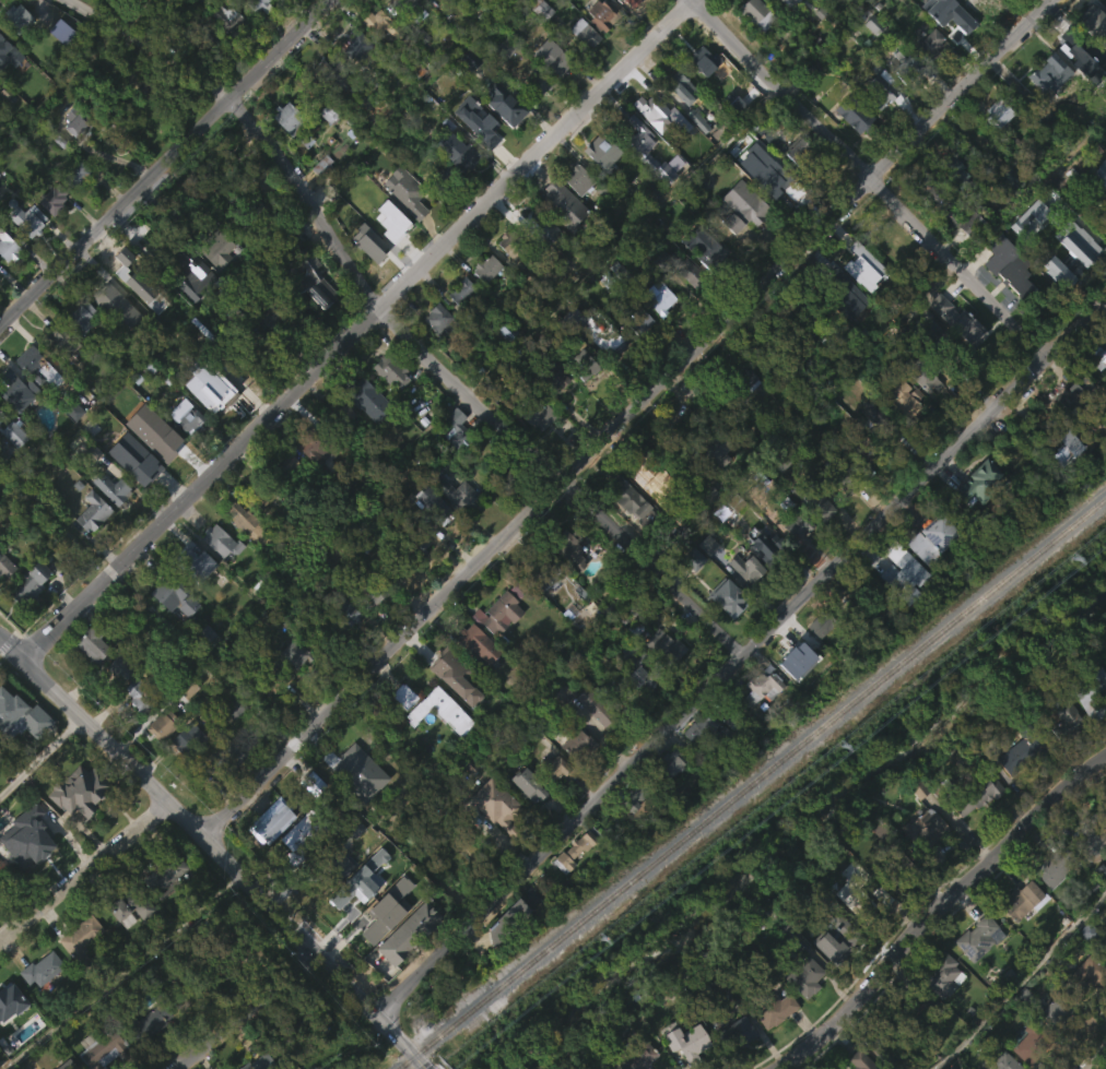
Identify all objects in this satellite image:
building: (82, 3)
building: (632, 3)
building: (260, 4)
building: (979, 4)
building: (408, 5)
building: (993, 5)
building: (808, 7)
building: (275, 9)
building: (466, 12)
building: (603, 14)
building: (757, 14)
building: (227, 17)
building: (17, 19)
building: (437, 19)
building: (621, 19)
building: (953, 20)
building: (778, 22)
building: (1094, 23)
building: (250, 26)
building: (383, 26)
building: (61, 31)
building: (400, 31)
building: (972, 32)
building: (584, 33)
building: (211, 36)
building: (541, 44)
building: (932, 45)
building: (3, 46)
building: (357, 46)
building: (752, 46)
building: (225, 49)
building: (599, 49)
building: (948, 55)
building: (373, 57)
building: (554, 58)
building: (868, 59)
building: (705, 60)
building: (1091, 60)
building: (58, 66)
building: (907, 66)
building: (580, 67)
building: (205, 69)
building: (332, 73)
building: (1050, 73)
building: (928, 75)
building: (145, 79)
building: (1, 80)
building: (353, 80)
building: (502, 84)
building: (538, 84)
building: (681, 86)
building: (882, 90)
building: (467, 93)
building: (699, 94)
building: (906, 98)
building: (503, 102)
building: (1046, 107)
building: (329, 108)
building: (656, 111)
building: (998, 111)
building: (281, 115)
building: (857, 115)
building: (534, 119)
building: (678, 121)
building: (140, 123)
building: (875, 126)
building: (489, 132)
building: (638, 138)
building: (995, 146)
building: (325, 147)
building: (655, 147)
building: (849, 147)
building: (598, 149)
building: (284, 153)
building: (800, 153)
building: (72, 155)
building: (462, 155)
road: (164, 159)
building: (1098, 163)
building: (1002, 169)
building: (636, 171)
building: (75, 174)
road: (870, 178)
building: (966, 178)
building: (442, 179)
building: (579, 179)
building: (793, 185)
building: (775, 186)
building: (598, 187)
building: (459, 191)
building: (52, 199)
building: (318, 199)
building: (999, 202)
building: (558, 203)
building: (72, 206)
building: (659, 206)
building: (744, 206)
building: (1097, 209)
building: (946, 211)
building: (254, 216)
building: (31, 219)
building: (649, 222)
building: (536, 224)
building: (401, 225)
building: (1081, 229)
building: (389, 231)
building: (49, 233)
building: (560, 239)
building: (738, 240)
building: (9, 244)
building: (514, 245)
building: (360, 246)
building: (216, 249)
building: (1028, 251)
building: (26, 253)
building: (711, 254)
building: (963, 254)
building: (537, 259)
building: (1068, 259)
building: (859, 265)
building: (680, 268)
building: (487, 269)
building: (196, 270)
building: (1072, 275)
building: (7, 278)
building: (508, 280)
building: (313, 281)
building: (216, 283)
building: (460, 290)
building: (835, 290)
building: (660, 298)
building: (676, 300)
building: (859, 300)
building: (1004, 300)
building: (109, 301)
building: (483, 301)
building: (1054, 306)
building: (810, 310)
building: (272, 311)
building: (191, 312)
building: (310, 313)
building: (81, 317)
building: (438, 318)
building: (639, 320)
building: (839, 321)
building: (237, 322)
building: (458, 324)
road: (400, 328)
road: (356, 331)
building: (603, 331)
building: (656, 332)
building: (938, 338)
building: (113, 340)
building: (62, 344)
building: (267, 349)
building: (78, 351)
building: (435, 353)
building: (766, 355)
building: (636, 356)
building: (1102, 356)
building: (964, 364)
building: (503, 365)
building: (585, 366)
building: (37, 367)
building: (392, 372)
building: (603, 373)
building: (57, 376)
building: (552, 376)
building: (927, 378)
building: (739, 379)
building: (210, 390)
building: (17, 392)
building: (1096, 393)
building: (362, 394)
building: (581, 399)
building: (903, 399)
building: (36, 402)
building: (387, 405)
building: (742, 409)
building: (552, 412)
building: (340, 413)
building: (917, 413)
building: (538, 414)
building: (188, 415)
building: (1, 416)
building: (881, 417)
road: (627, 420)
building: (123, 426)
building: (457, 427)
building: (1071, 427)
building: (901, 431)
building: (365, 433)
building: (14, 435)
building: (166, 441)
building: (141, 442)
building: (69, 443)
building: (313, 444)
building: (870, 446)
building: (338, 449)
building: (713, 449)
building: (184, 450)
building: (533, 450)
building: (0, 452)
building: (284, 462)
building: (452, 463)
building: (142, 465)
building: (11, 467)
building: (163, 474)
building: (840, 475)
building: (978, 482)
building: (1062, 482)
building: (310, 483)
building: (713, 485)
building: (115, 488)
building: (454, 490)
building: (631, 495)
building: (814, 498)
building: (271, 501)
building: (426, 503)
building: (93, 511)
building: (756, 512)
building: (977, 516)
building: (108, 521)
building: (800, 522)
building: (249, 523)
building: (451, 526)
building: (419, 527)
building: (933, 532)
building: (626, 533)
building: (221, 539)
building: (436, 541)
building: (419, 542)
building: (89, 545)
building: (769, 545)
building: (573, 547)
building: (242, 554)
building: (791, 558)
power tower: (1071, 559)
building: (191, 562)
building: (393, 565)
building: (4, 566)
building: (749, 568)
building: (541, 570)
building: (928, 572)
building: (216, 574)
building: (704, 578)
building: (414, 579)
building: (28, 581)
building: (566, 585)
building: (372, 586)
building: (690, 592)
building: (174, 595)
building: (722, 597)
building: (4, 601)
building: (898, 607)
building: (345, 609)
building: (499, 611)
building: (26, 615)
building: (824, 620)
building: (368, 623)
building: (170, 630)
building: (725, 632)
building: (93, 642)
building: (479, 642)
building: (342, 643)
building: (494, 648)
building: (667, 648)
building: (871, 649)
road: (10, 650)
building: (294, 655)
building: (817, 657)
road: (741, 660)
building: (790, 661)
building: (450, 662)
building: (640, 666)
building: (119, 669)
building: (89, 678)
building: (661, 679)
building: (269, 680)
building: (475, 680)
building: (290, 685)
building: (758, 686)
building: (141, 692)
building: (1091, 692)
building: (793, 694)
building: (401, 696)
building: (116, 701)
building: (596, 705)
building: (632, 705)
building: (437, 711)
building: (1066, 721)
building: (164, 722)
building: (185, 722)
building: (757, 722)
building: (132, 727)
building: (560, 727)
building: (400, 729)
building: (703, 729)
building: (1084, 735)
building: (189, 738)
building: (590, 740)
building: (230, 743)
building: (575, 743)
building: (437, 744)
power tower: (838, 747)
building: (19, 750)
building: (1061, 753)
building: (1021, 755)
road: (38, 756)
building: (160, 756)
building: (351, 761)
building: (697, 762)
building: (664, 764)
building: (555, 767)
building: (185, 772)
building: (572, 776)
railway: (751, 782)
building: (529, 784)
building: (224, 788)
building: (1015, 788)
building: (81, 791)
building: (979, 792)
building: (637, 793)
building: (345, 795)
building: (667, 796)
building: (551, 800)
building: (508, 813)
building: (307, 817)
building: (525, 818)
building: (75, 824)
building: (926, 829)
building: (972, 830)
building: (628, 832)
building: (1094, 836)
building: (31, 838)
building: (493, 840)
building: (583, 846)
building: (268, 855)
building: (351, 862)
road: (223, 863)
building: (920, 863)
building: (895, 865)
building: (334, 866)
building: (1058, 866)
building: (298, 869)
building: (164, 872)
building: (0, 875)
road: (85, 876)
building: (1089, 877)
building: (0, 881)
building: (572, 883)
building: (858, 891)
building: (332, 896)
building: (1024, 900)
building: (134, 903)
building: (1046, 905)
building: (1098, 905)
building: (164, 907)
road: (939, 908)
building: (357, 914)
building: (1019, 934)
building: (975, 936)
building: (838, 939)
building: (81, 940)
power tower: (597, 940)
building: (127, 941)
building: (385, 942)
building: (238, 951)
building: (503, 954)
building: (404, 966)
building: (42, 972)
building: (78, 972)
building: (973, 972)
building: (1089, 974)
building: (943, 975)
building: (805, 976)
building: (828, 982)
road: (1021, 983)
building: (191, 987)
building: (39, 1002)
building: (8, 1003)
building: (769, 1006)
building: (1083, 1006)
building: (938, 1008)
building: (1059, 1008)
building: (801, 1010)
road: (248, 1012)
building: (920, 1012)
building: (149, 1020)
building: (302, 1030)
building: (178, 1031)
building: (8, 1032)
building: (734, 1033)
building: (682, 1040)
building: (772, 1042)
building: (889, 1043)
building: (1033, 1044)
building: (1049, 1045)
building: (103, 1048)
building: (637, 1054)
building: (148, 1055)
road: (1096, 1058)
building: (863, 1060)
building: (260, 1062)
building: (732, 1062)
building: (1005, 1062)
building: (690, 1064)
building: (68, 1065)
building: (1025, 1065)
building: (107, 1066)

